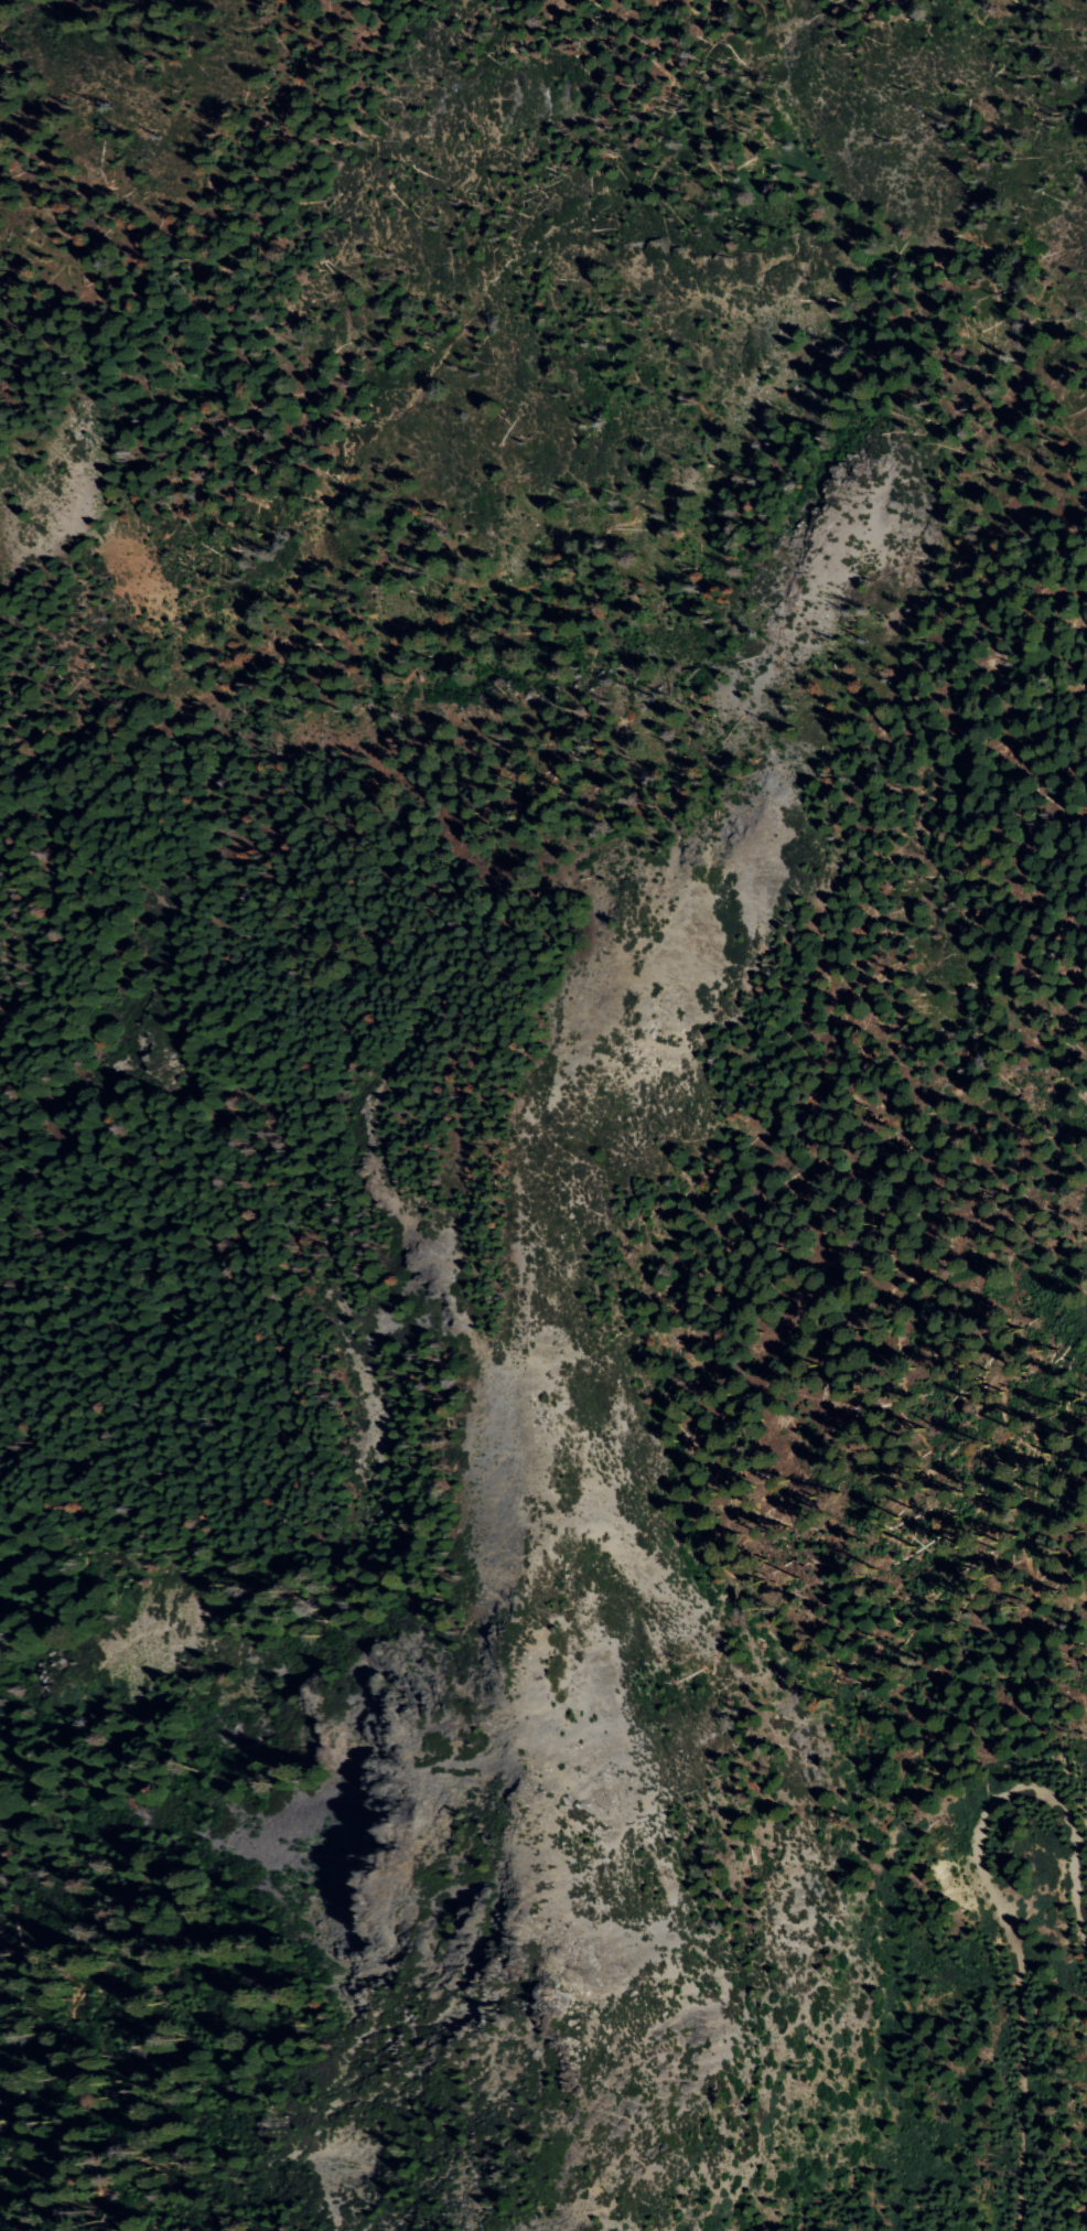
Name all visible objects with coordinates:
road: (1007, 1908)

